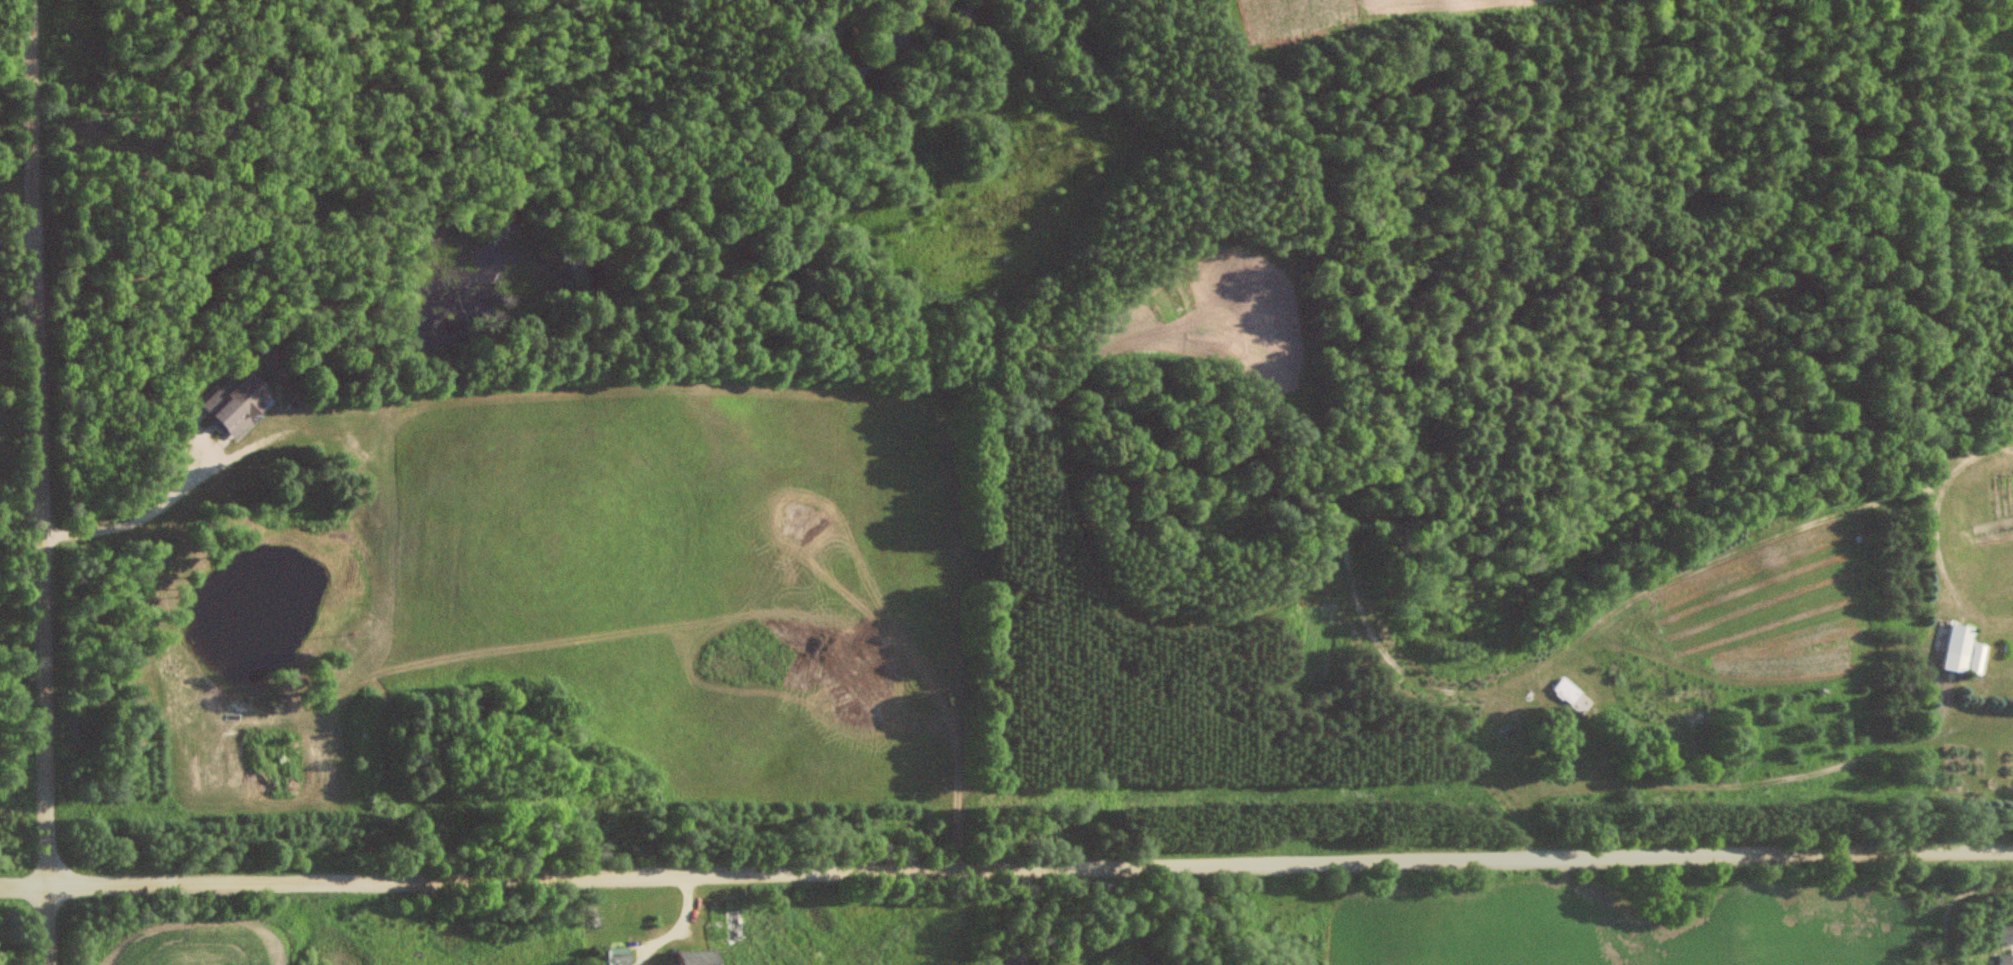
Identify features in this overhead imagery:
building: (241, 402)
road: (45, 482)
building: (1951, 650)
road: (1443, 689)
building: (1570, 690)
road: (1006, 867)
building: (739, 921)
building: (2004, 935)
building: (621, 957)
building: (705, 957)
building: (2004, 960)

